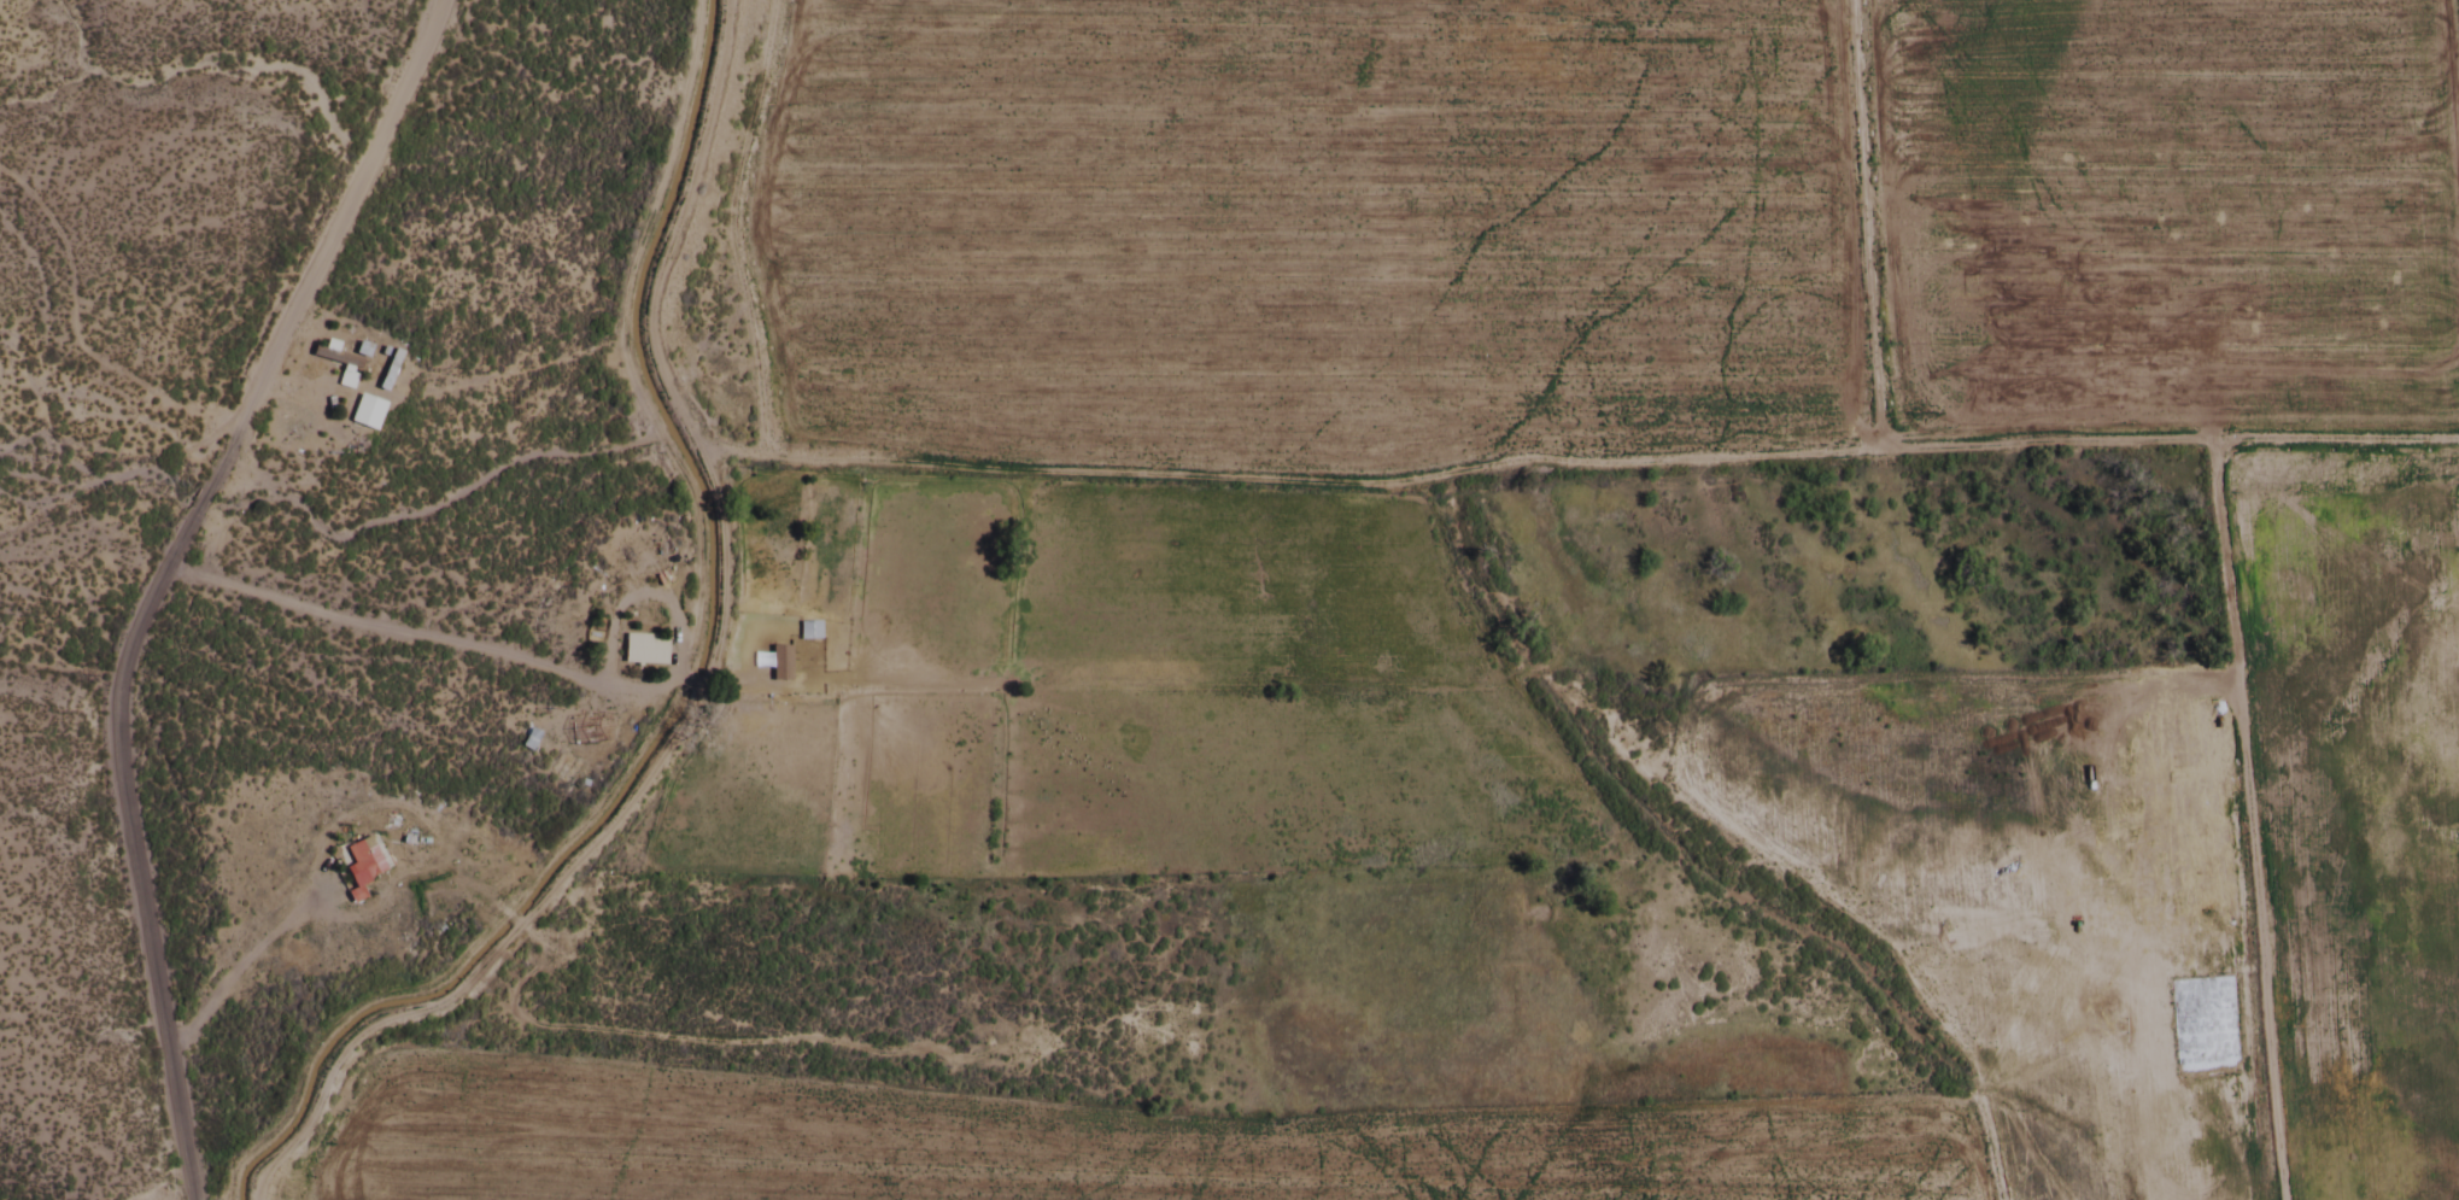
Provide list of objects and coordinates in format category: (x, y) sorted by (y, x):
road: (2455, 40)
road: (1857, 223)
road: (731, 226)
building: (387, 370)
building: (365, 414)
road: (1575, 456)
road: (152, 574)
road: (364, 627)
building: (644, 651)
building: (779, 665)
road: (672, 684)
road: (697, 685)
building: (526, 743)
building: (363, 859)

